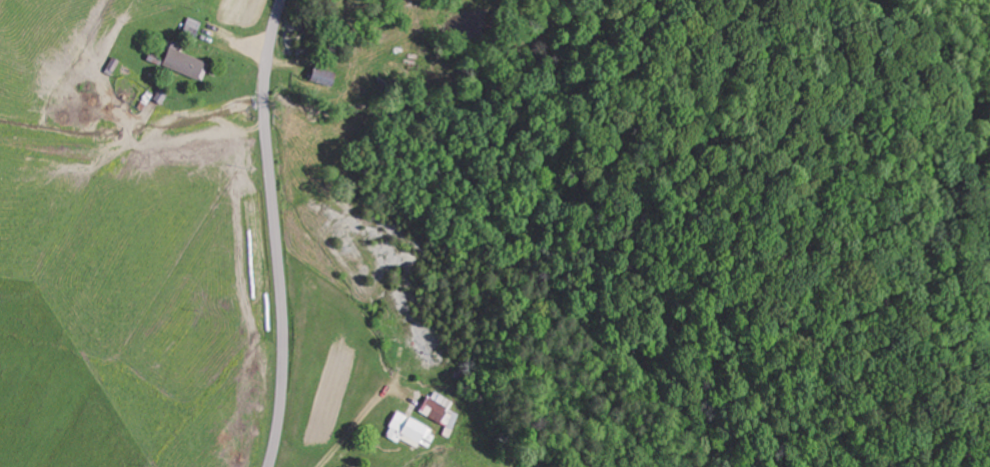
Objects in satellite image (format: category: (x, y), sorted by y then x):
building: (185, 62)
road: (275, 233)
building: (440, 410)
building: (409, 430)

